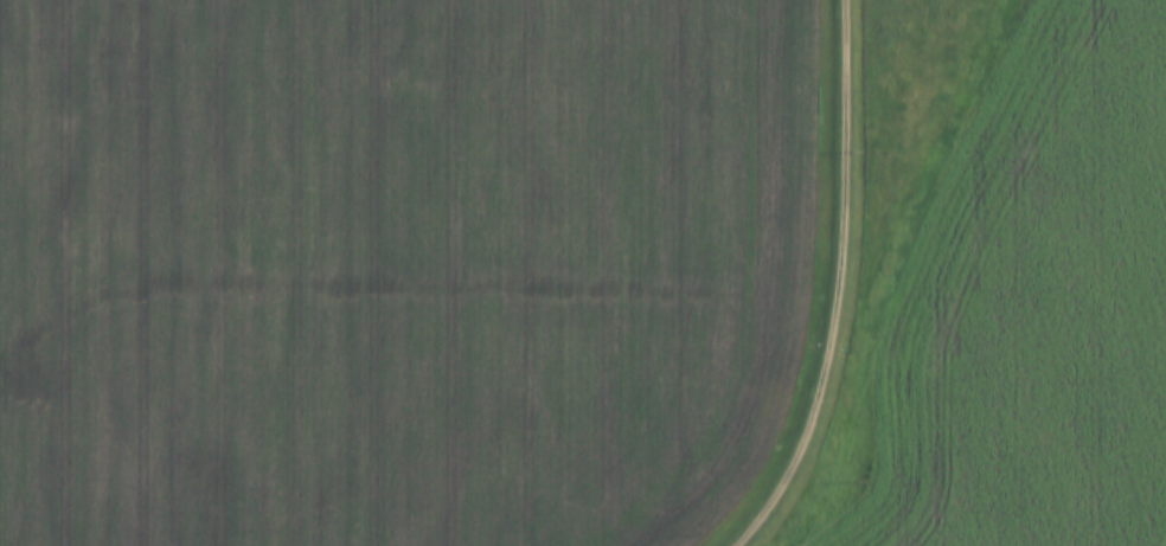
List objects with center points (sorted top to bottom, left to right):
road: (841, 285)

